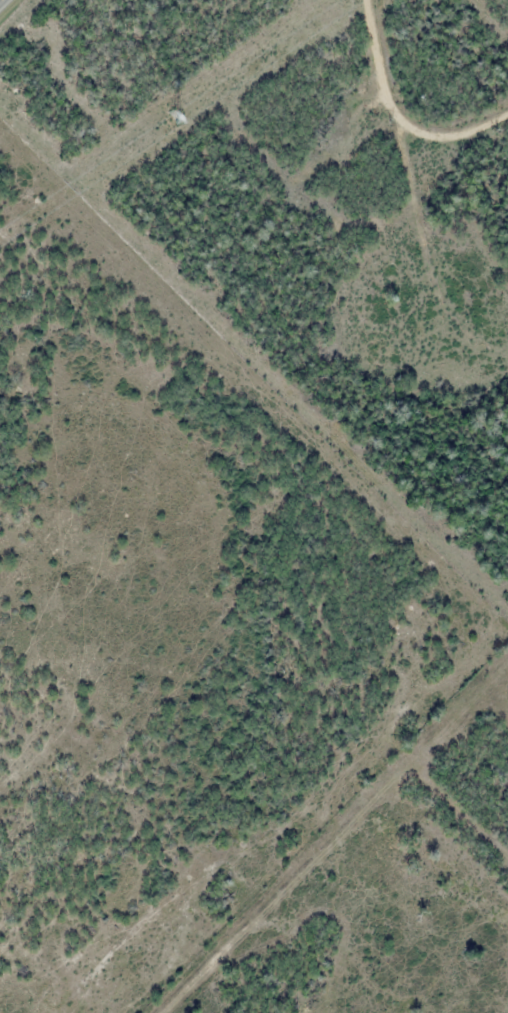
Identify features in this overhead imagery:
road: (3, 3)
road: (396, 115)
power tower: (172, 116)

